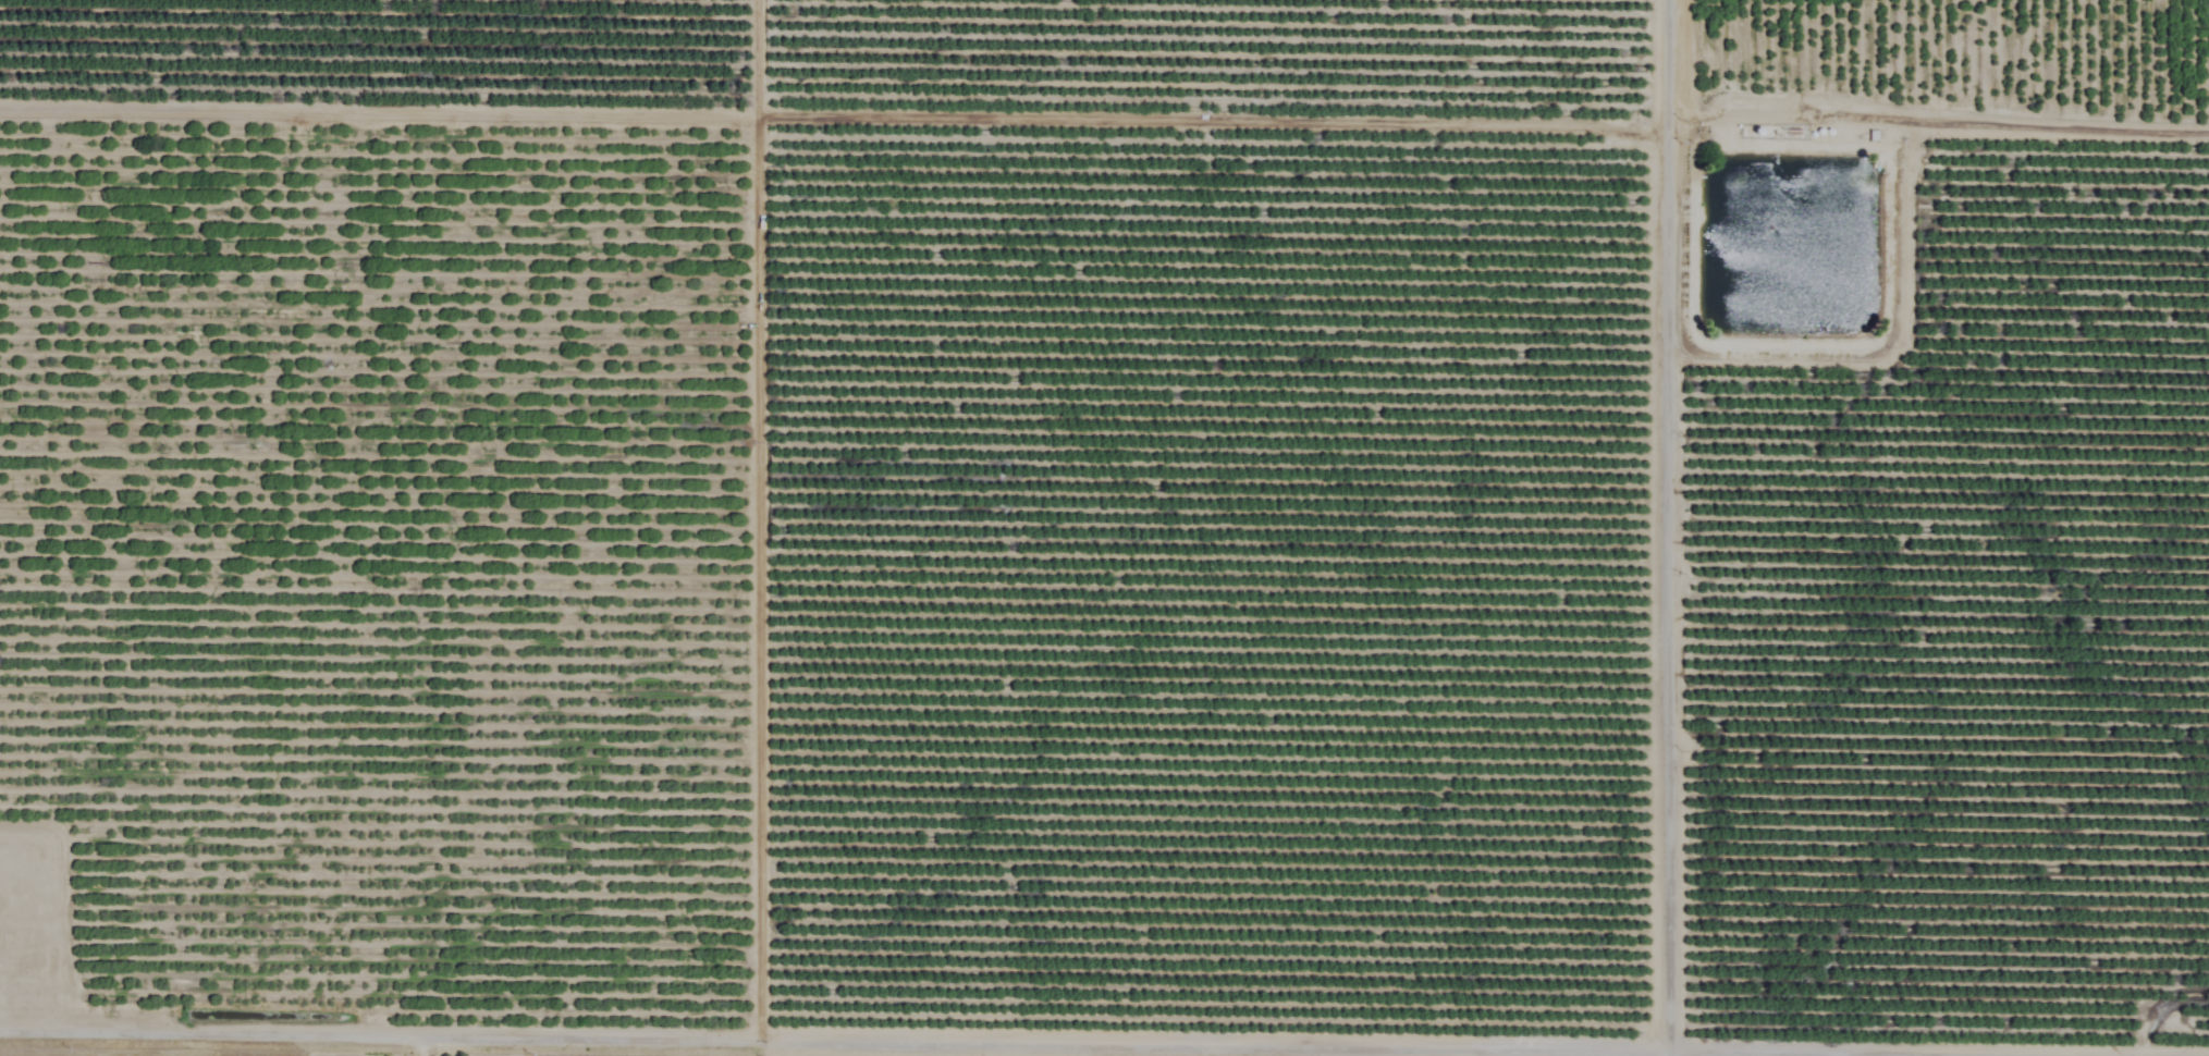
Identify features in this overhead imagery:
road: (1937, 119)
road: (832, 122)
road: (760, 517)
crop: (1108, 525)
road: (1670, 528)
road: (1104, 1040)
road: (421, 1044)

